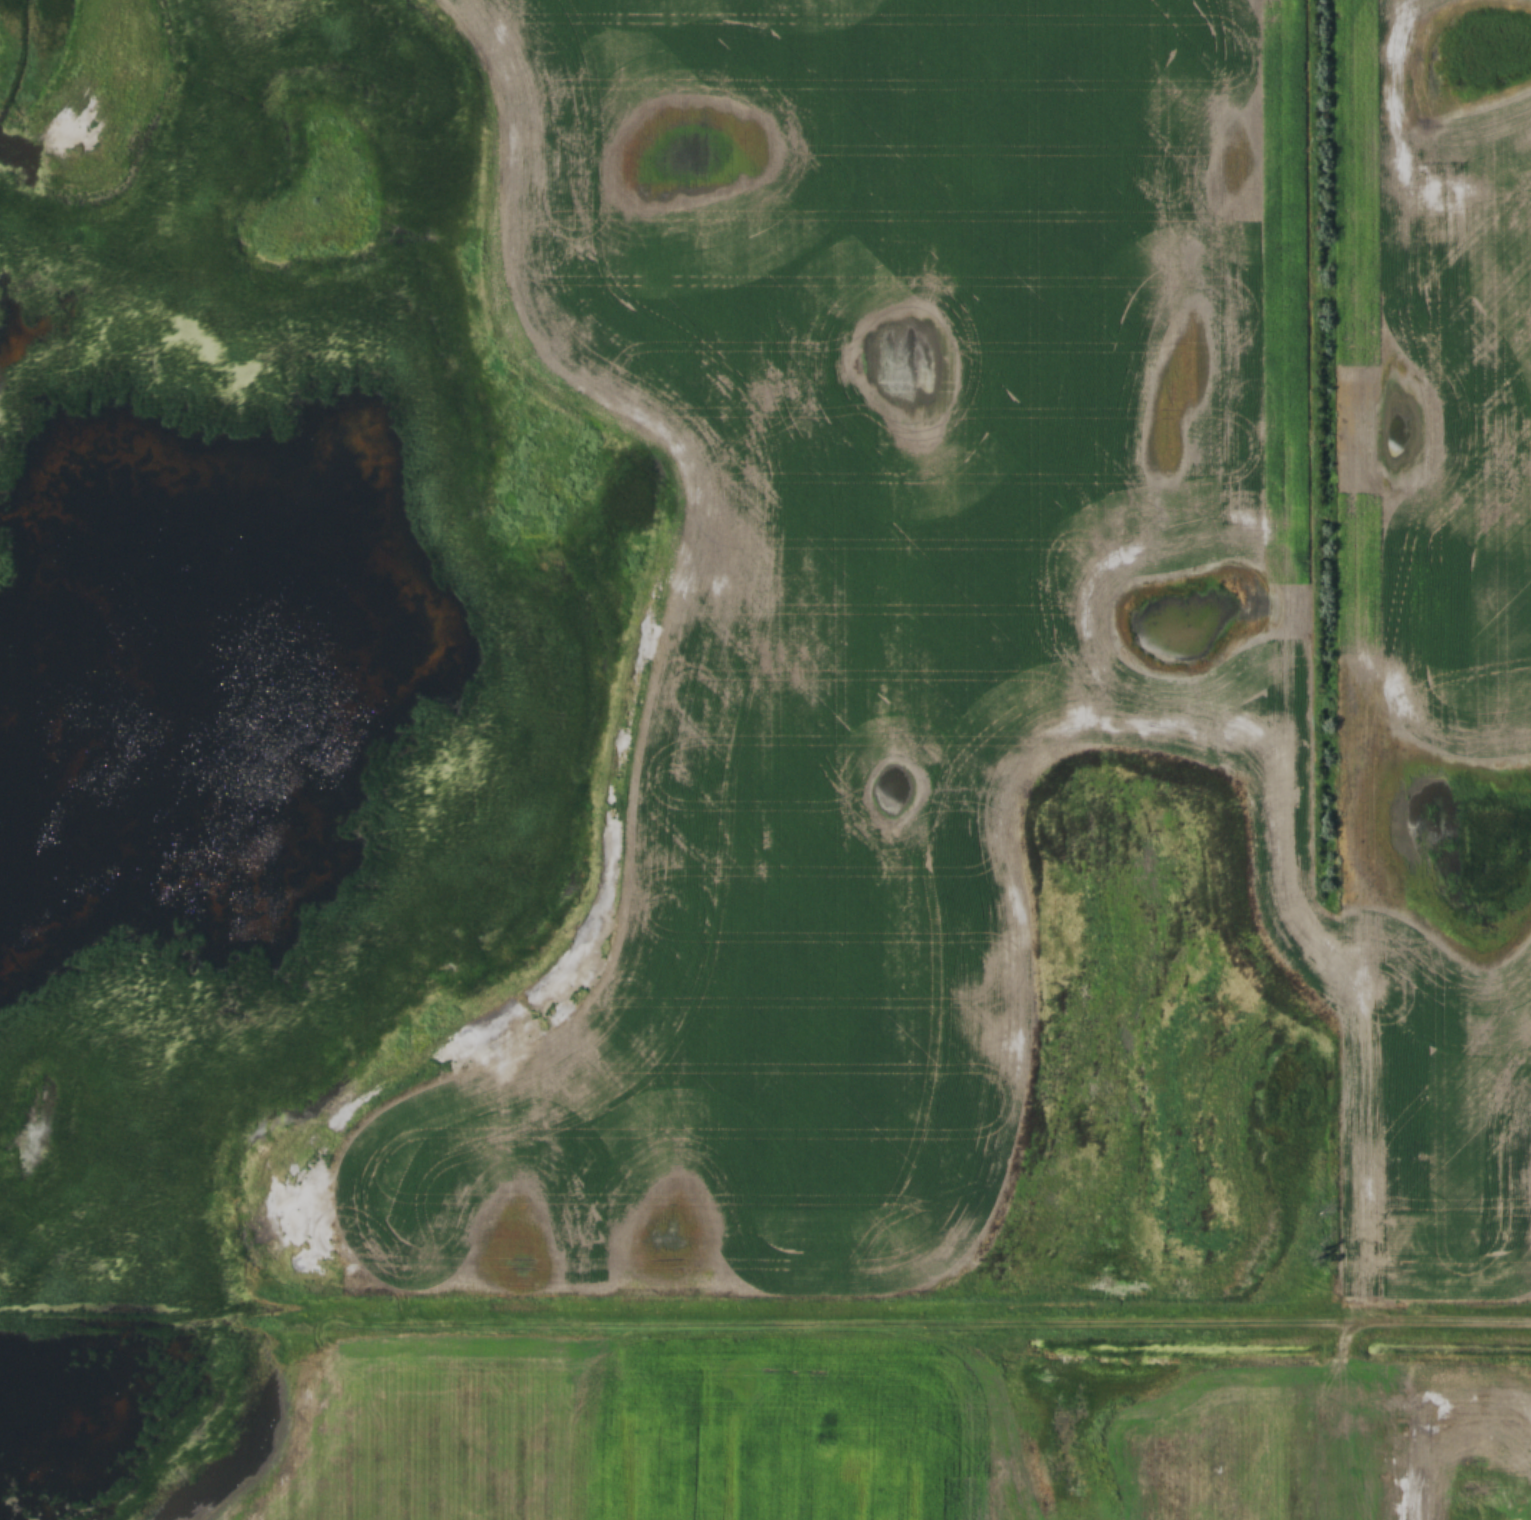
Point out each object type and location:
road: (765, 1312)

